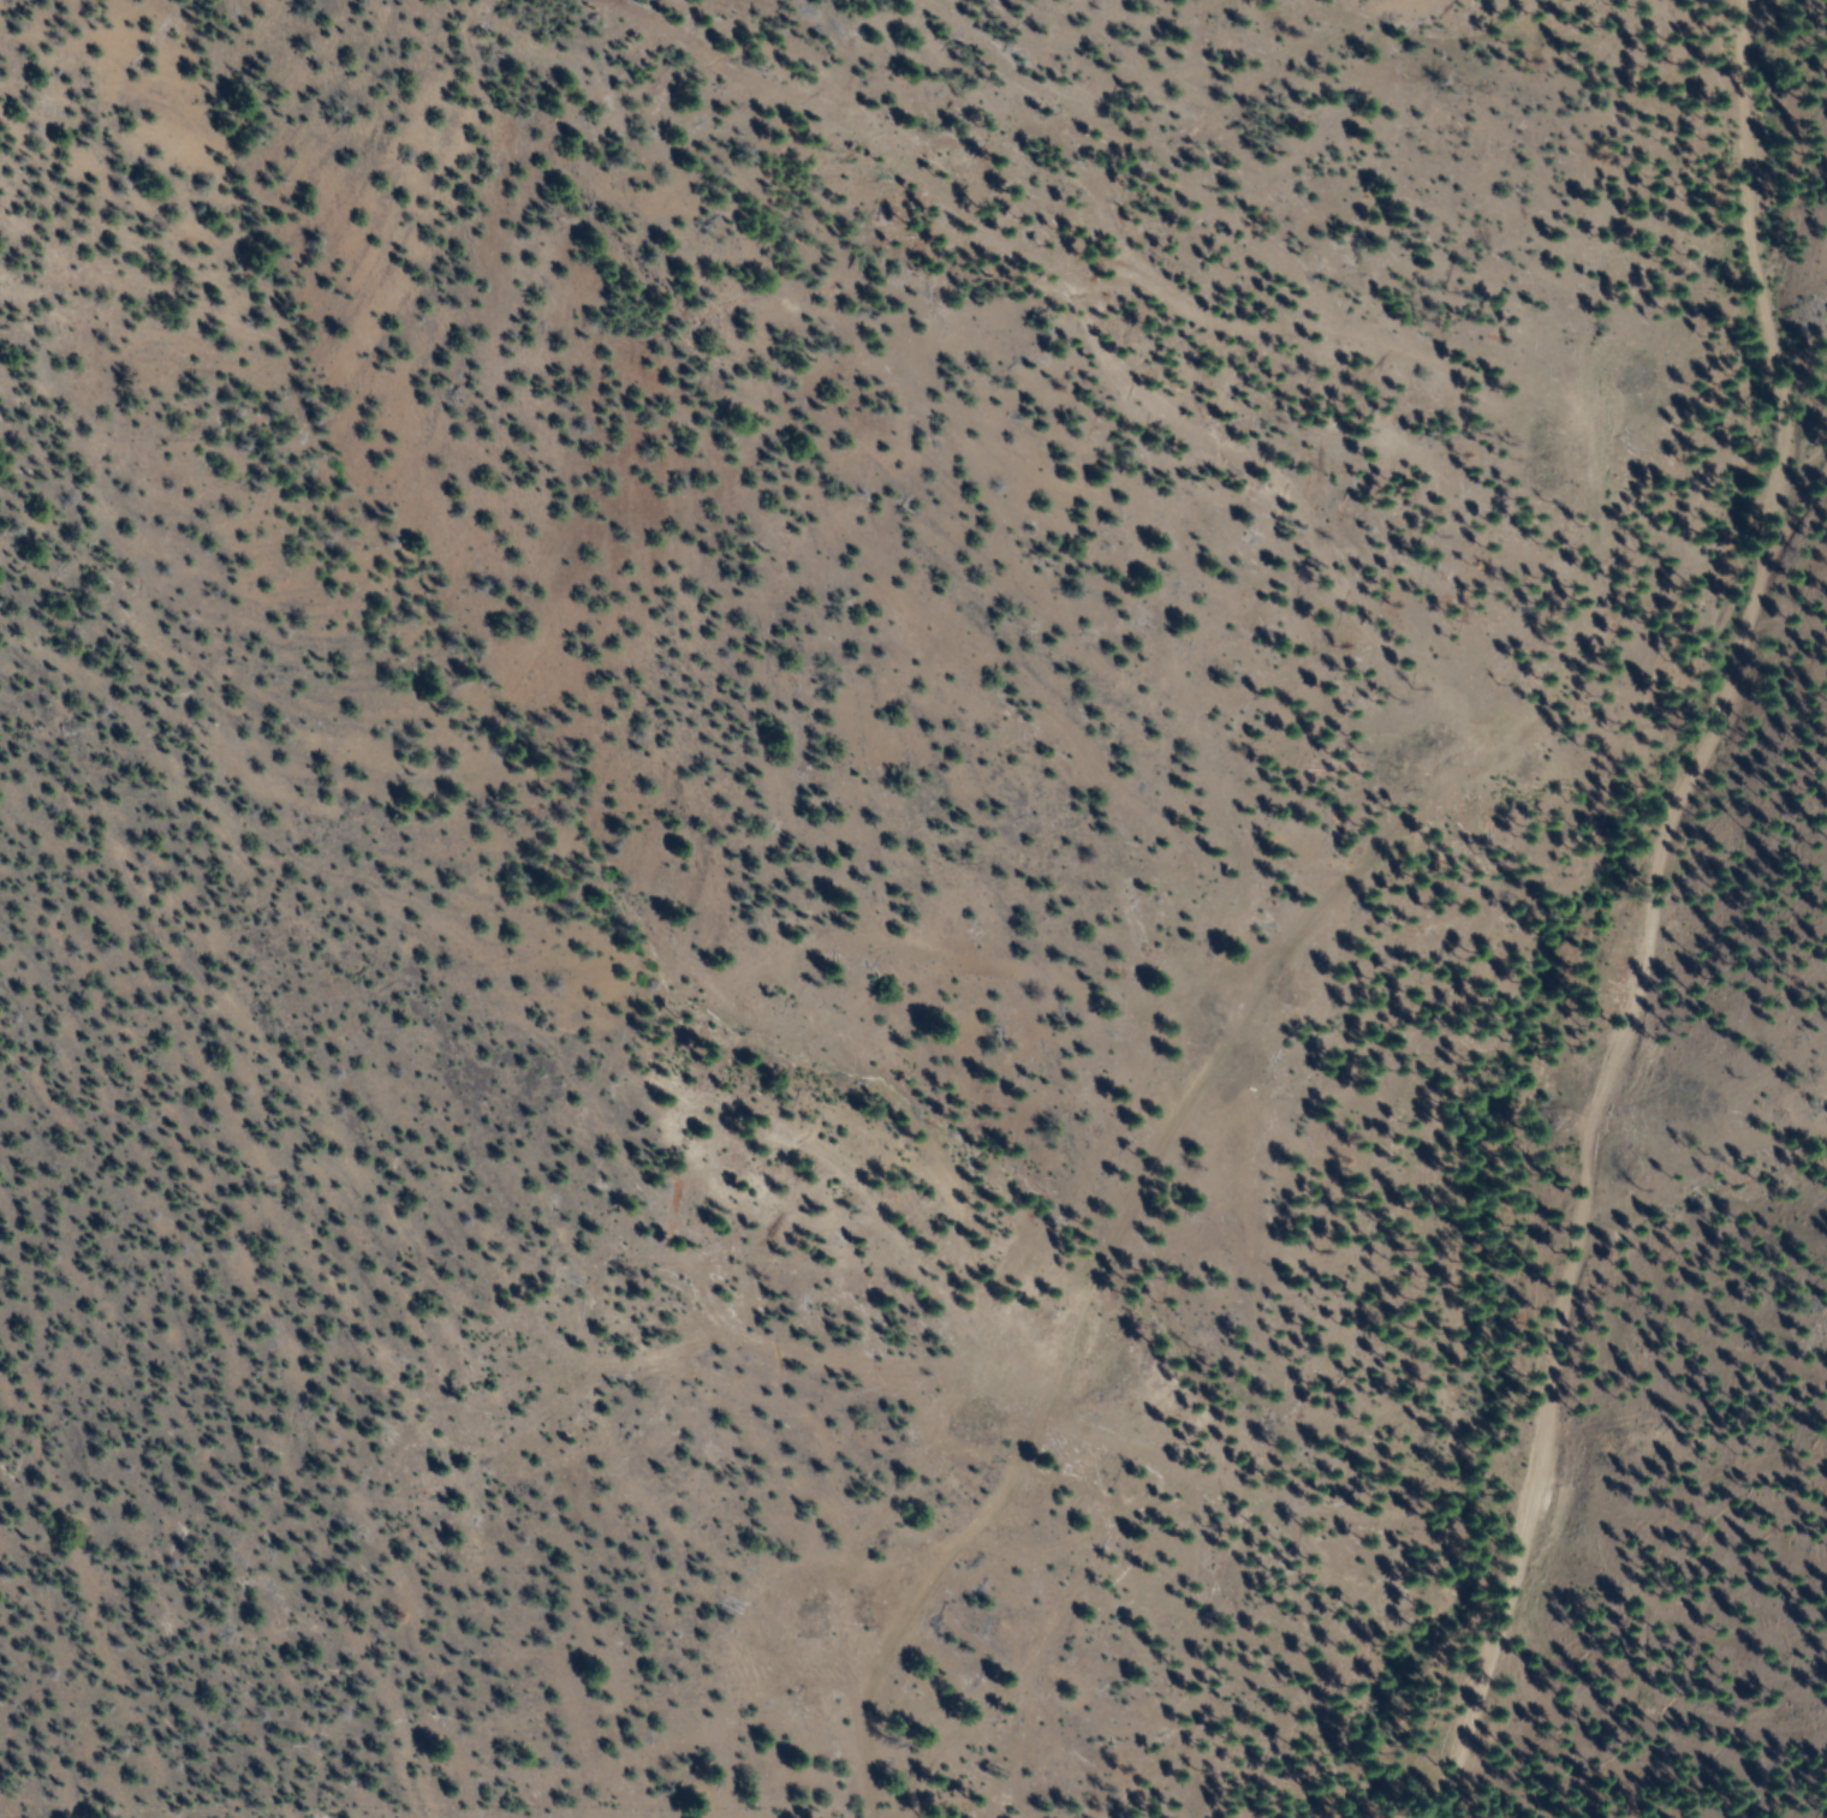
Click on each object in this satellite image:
road: (1734, 919)

